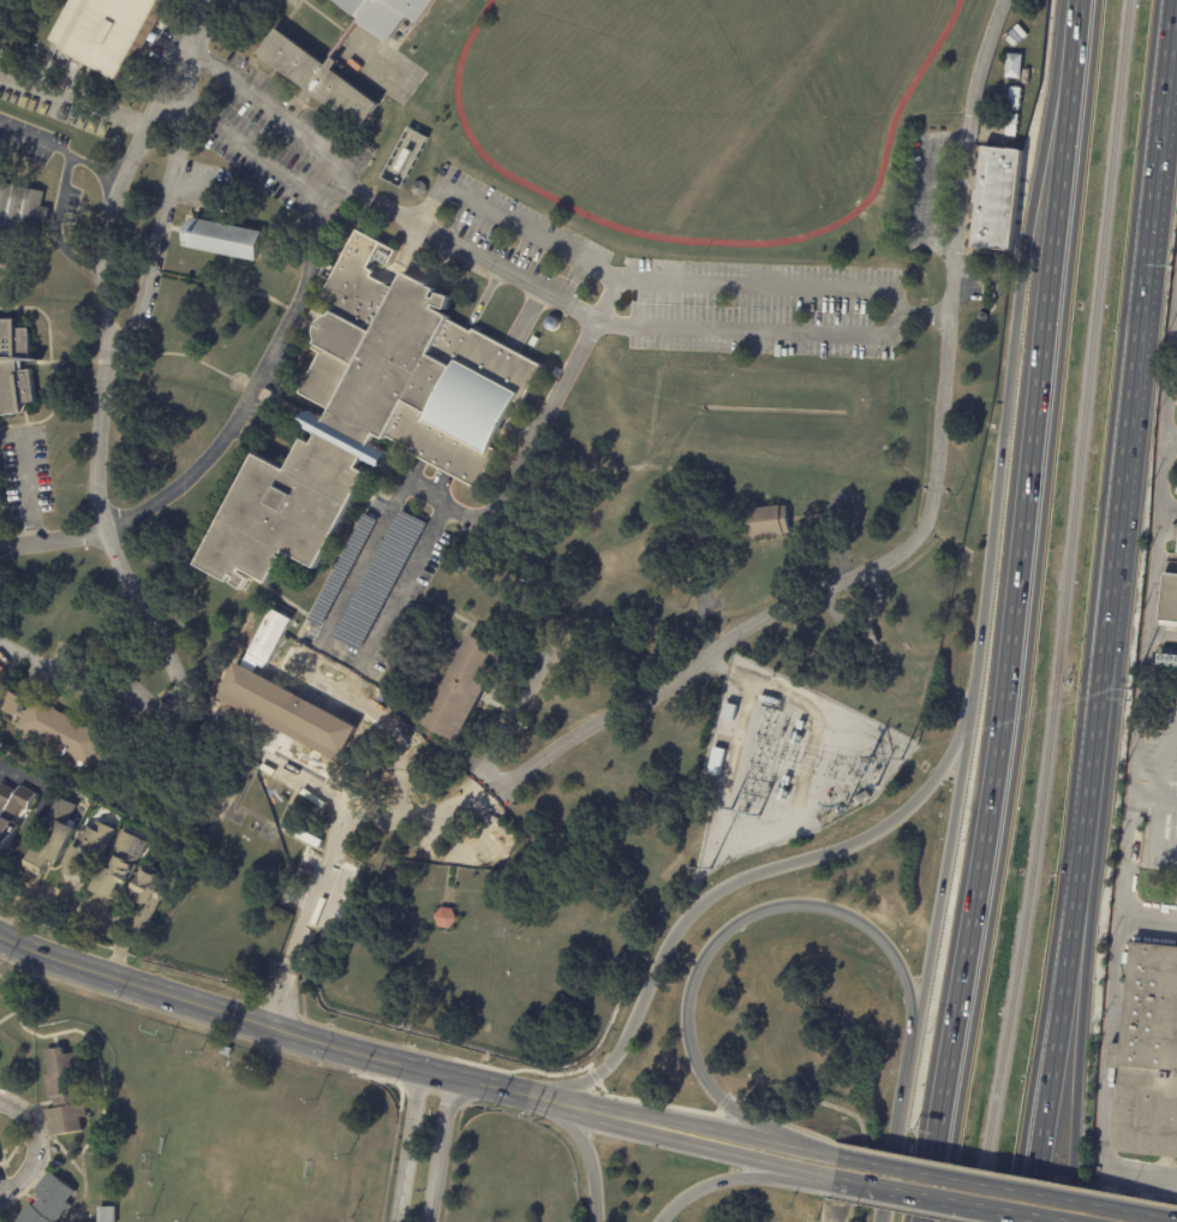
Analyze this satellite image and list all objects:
road: (1074, 26)
building: (108, 30)
building: (1029, 62)
building: (300, 66)
building: (1011, 66)
building: (1032, 77)
building: (1015, 100)
track: (695, 107)
road: (271, 109)
building: (1011, 125)
road: (247, 145)
road: (64, 151)
building: (405, 159)
building: (417, 189)
building: (922, 189)
building: (997, 201)
building: (22, 211)
road: (157, 226)
road: (55, 230)
building: (225, 238)
road: (494, 267)
road: (645, 278)
road: (607, 298)
road: (777, 333)
building: (14, 369)
road: (1008, 378)
road: (1172, 385)
building: (371, 413)
building: (663, 425)
road: (1130, 427)
road: (30, 491)
building: (764, 521)
building: (698, 533)
road: (58, 538)
road: (1154, 544)
road: (898, 553)
road: (126, 555)
road: (358, 583)
building: (1169, 598)
railway: (1059, 612)
road: (1089, 612)
road: (1032, 613)
building: (269, 637)
road: (1009, 639)
building: (861, 642)
road: (17, 651)
building: (1166, 657)
building: (466, 689)
road: (1140, 711)
building: (291, 715)
building: (61, 732)
building: (796, 733)
road: (395, 762)
building: (716, 762)
power substation: (785, 763)
road: (1165, 765)
road: (24, 775)
building: (782, 788)
building: (860, 797)
building: (10, 810)
road: (1154, 830)
building: (62, 845)
building: (91, 853)
building: (119, 864)
road: (1124, 864)
road: (943, 874)
road: (737, 881)
building: (145, 900)
road: (76, 905)
building: (449, 919)
road: (729, 925)
road: (269, 1024)
road: (1057, 1037)
road: (1079, 1037)
building: (227, 1051)
building: (1147, 1056)
road: (1104, 1079)
building: (65, 1093)
road: (584, 1109)
road: (700, 1126)
road: (894, 1131)
road: (402, 1143)
road: (32, 1146)
road: (438, 1149)
road: (707, 1149)
road: (807, 1150)
road: (585, 1154)
building: (0, 1161)
road: (814, 1175)
road: (722, 1180)
road: (1006, 1187)
building: (48, 1200)
road: (951, 1200)
building: (108, 1214)

